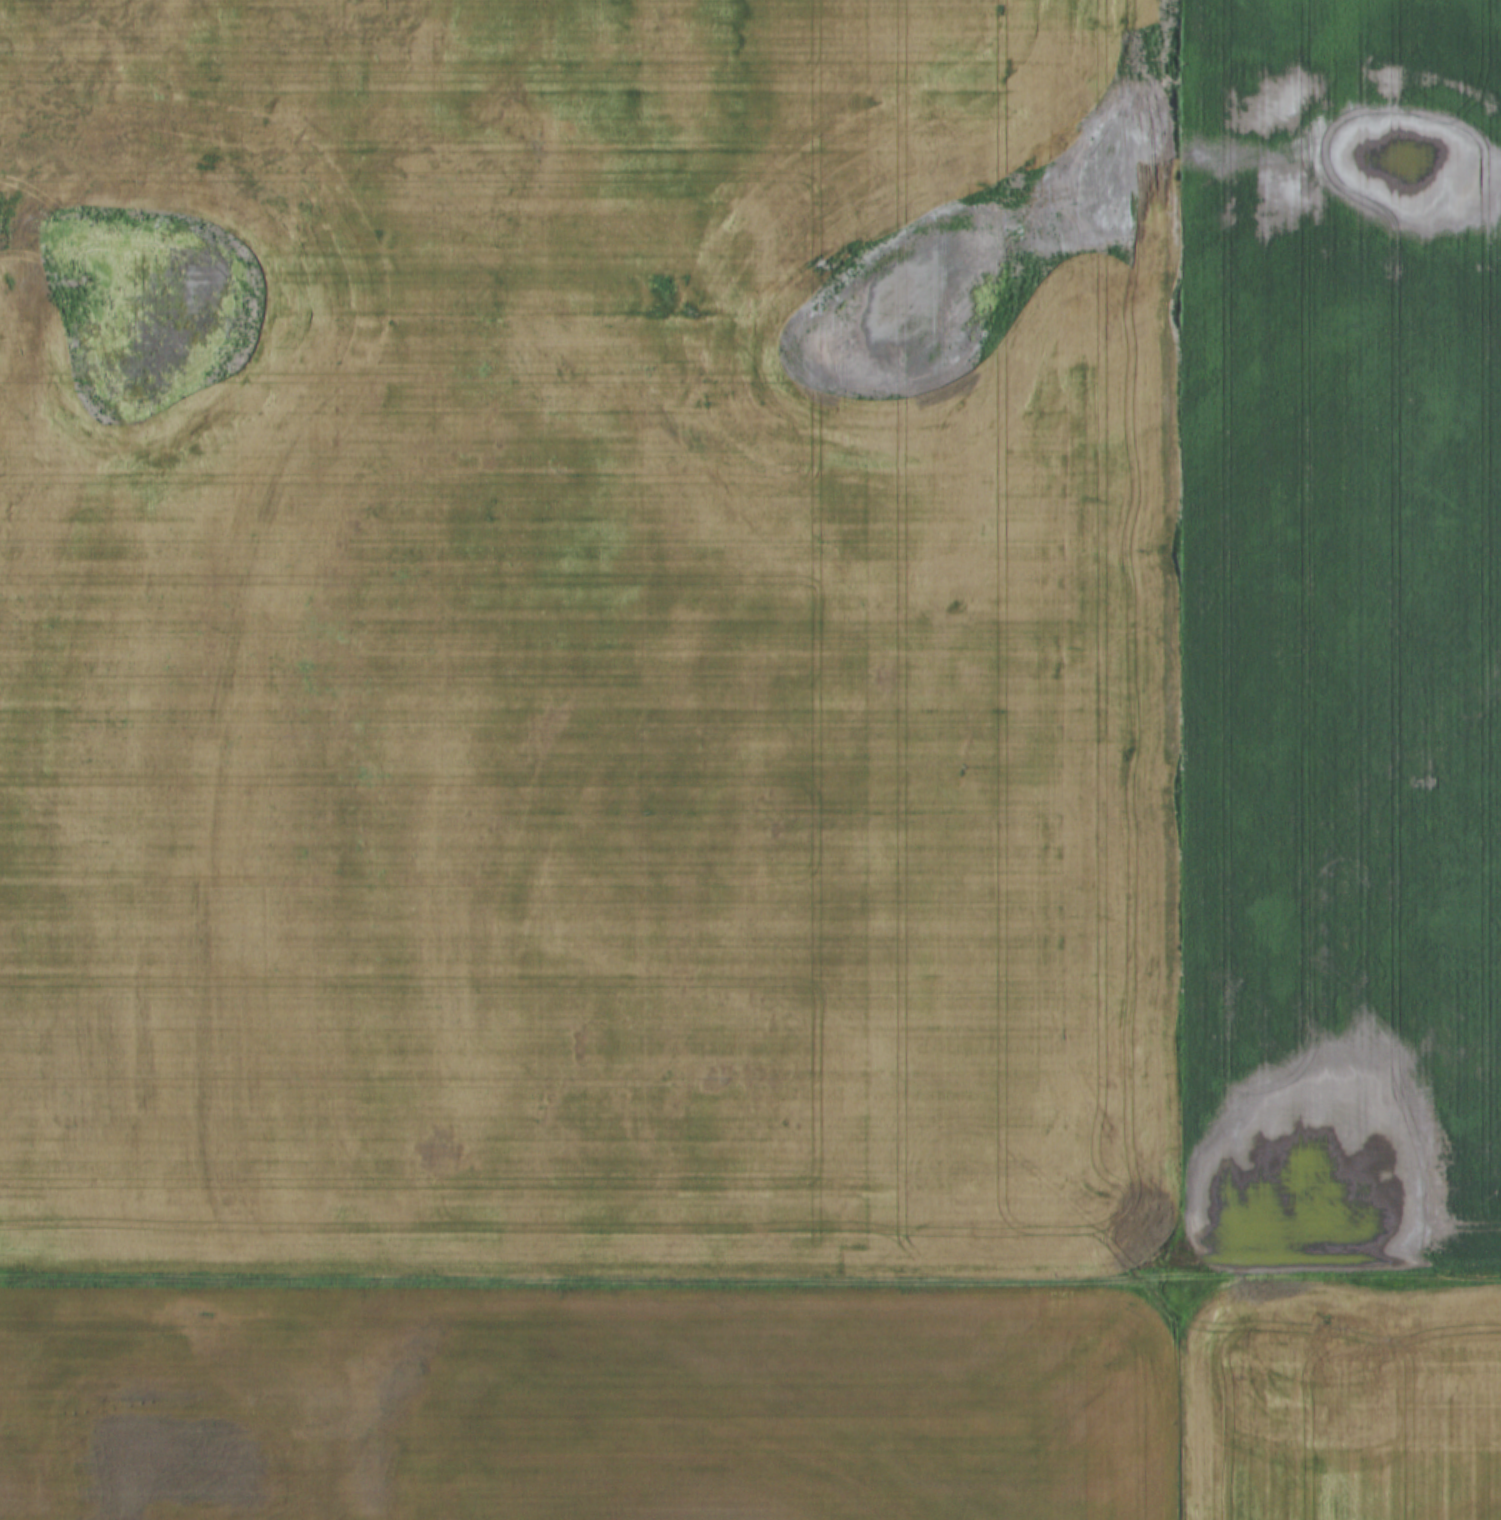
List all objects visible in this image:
road: (1181, 760)
road: (750, 1278)

